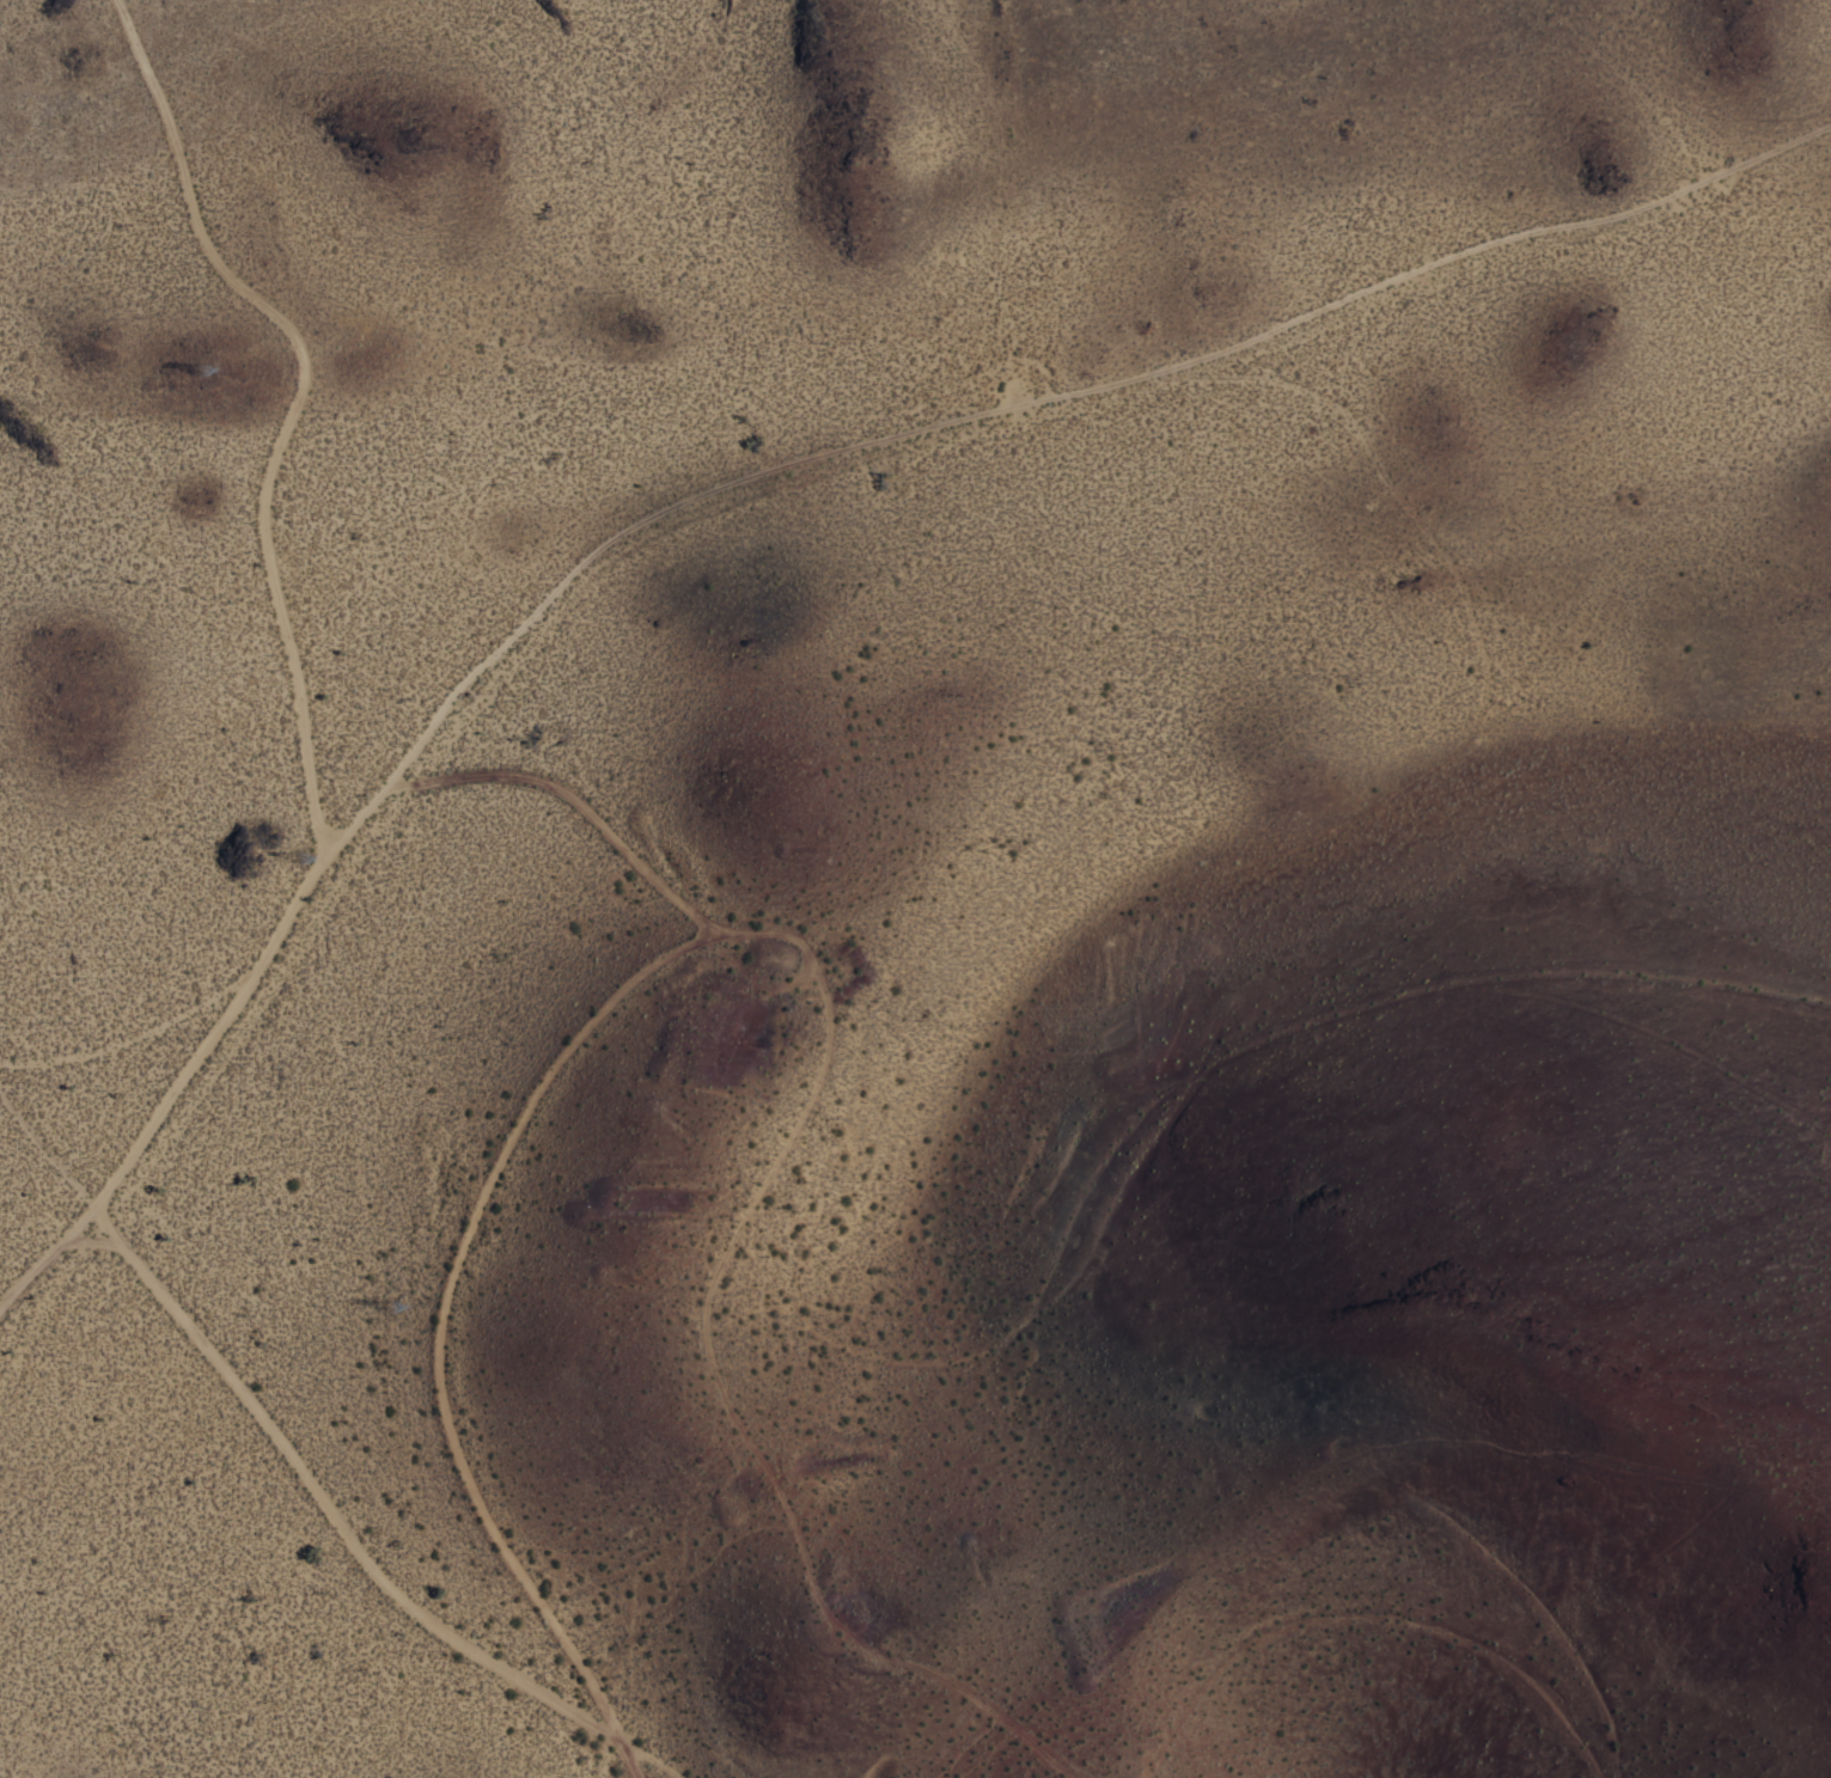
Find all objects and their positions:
power tower: (203, 379)
road: (292, 408)
road: (752, 483)
road: (575, 799)
power tower: (299, 857)
road: (441, 1305)
power tower: (393, 1307)
road: (721, 1368)
road: (325, 1504)
road: (627, 1759)
road: (648, 1759)

